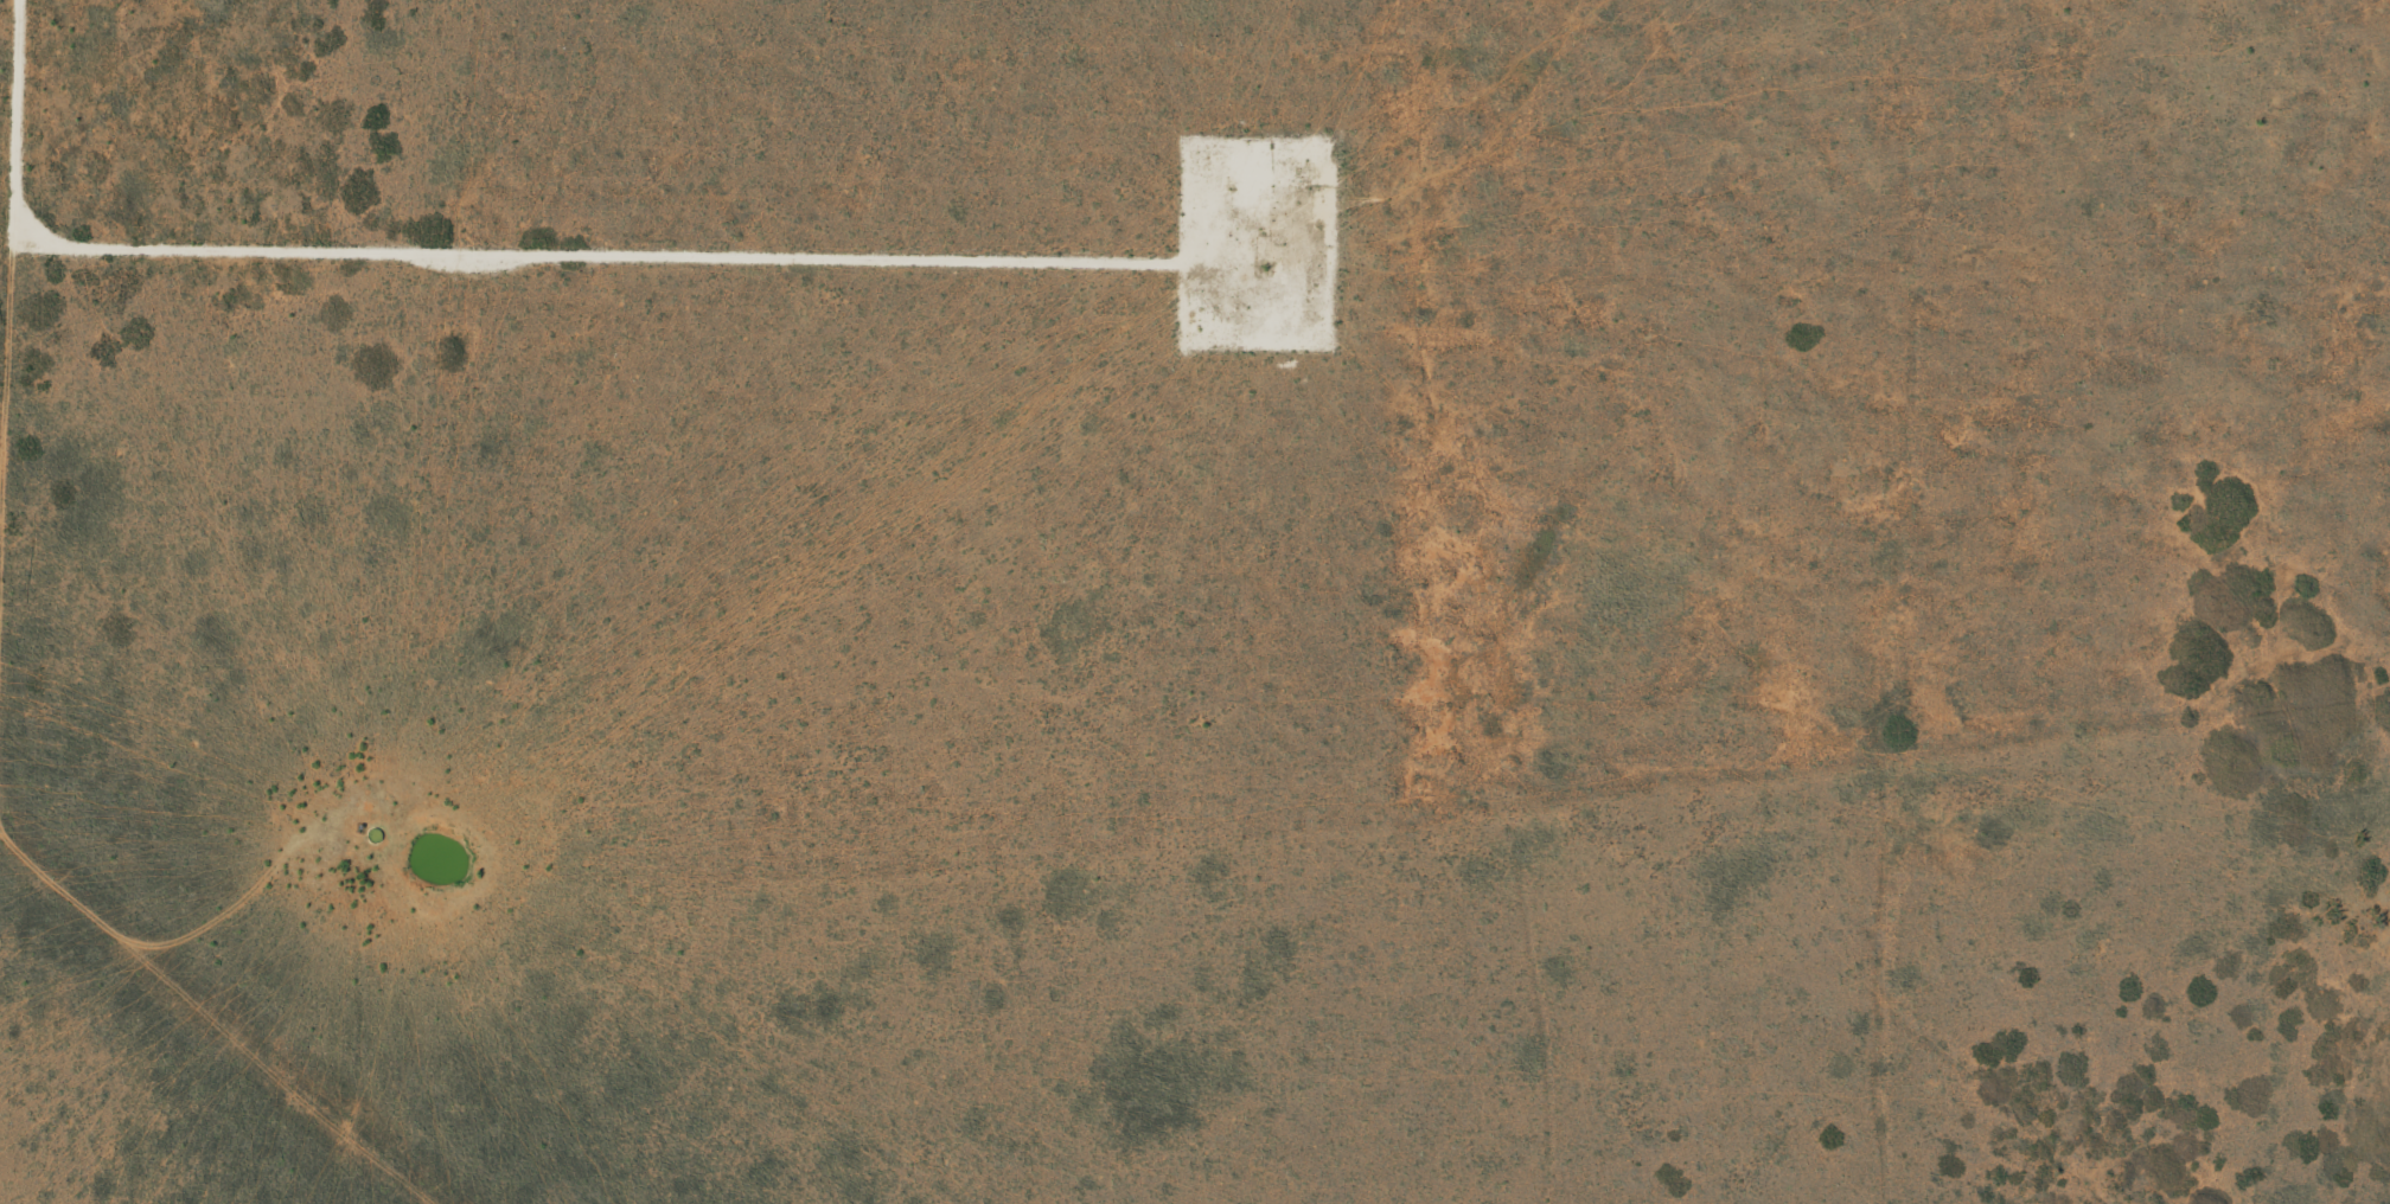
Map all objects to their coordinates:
road: (435, 598)

